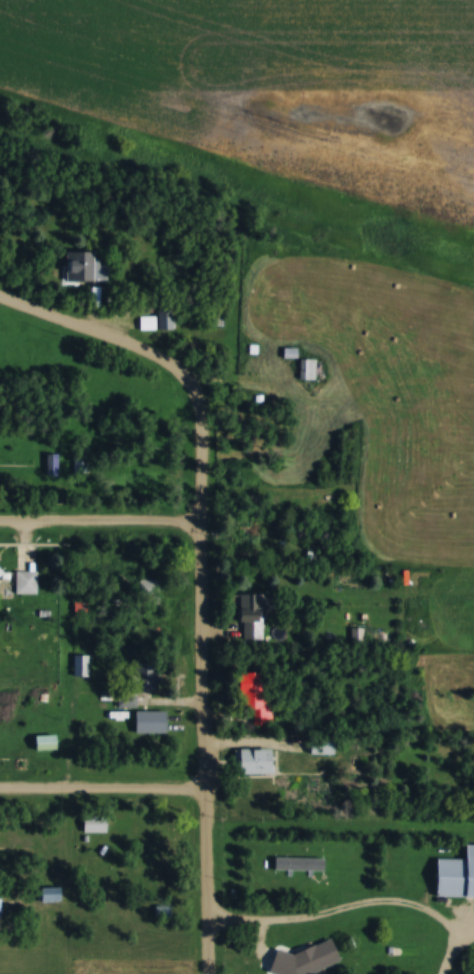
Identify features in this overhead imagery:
crop: (272, 81)
railway: (31, 136)
building: (86, 267)
building: (161, 322)
road: (103, 334)
building: (293, 354)
building: (310, 370)
building: (53, 466)
road: (98, 522)
building: (2, 572)
building: (28, 583)
building: (252, 616)
building: (355, 637)
building: (81, 666)
building: (151, 676)
road: (201, 682)
building: (257, 695)
building: (126, 698)
building: (48, 744)
building: (258, 762)
road: (101, 789)
building: (95, 825)
building: (302, 865)
building: (455, 878)
building: (53, 896)
building: (1, 909)
building: (312, 960)

